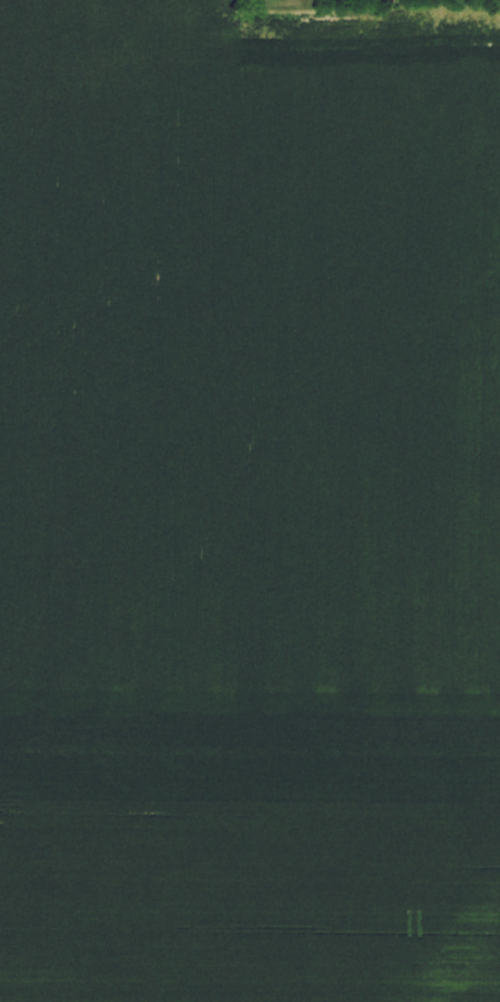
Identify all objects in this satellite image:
crop: (249, 504)

